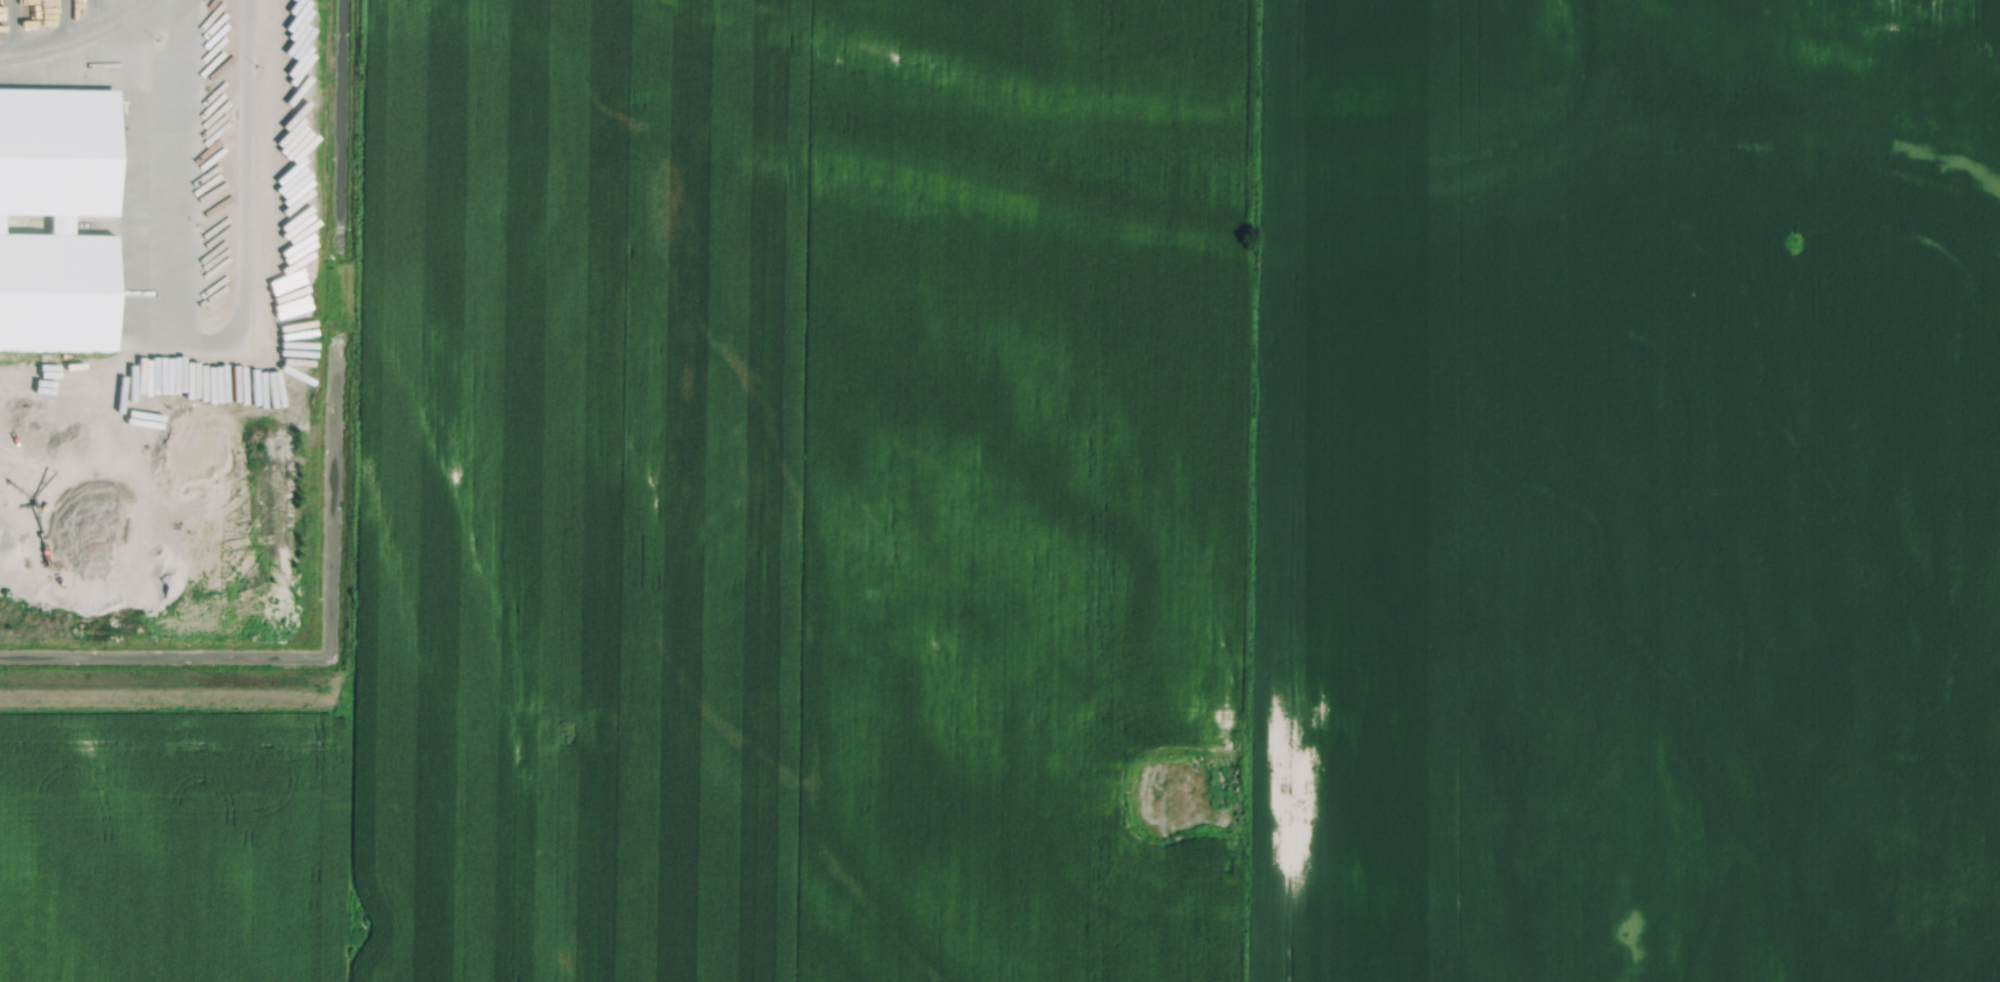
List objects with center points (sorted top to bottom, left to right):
road: (16, 22)
road: (47, 37)
railway: (80, 40)
road: (87, 71)
building: (56, 149)
building: (1, 221)
building: (61, 222)
building: (57, 289)
road: (203, 340)

